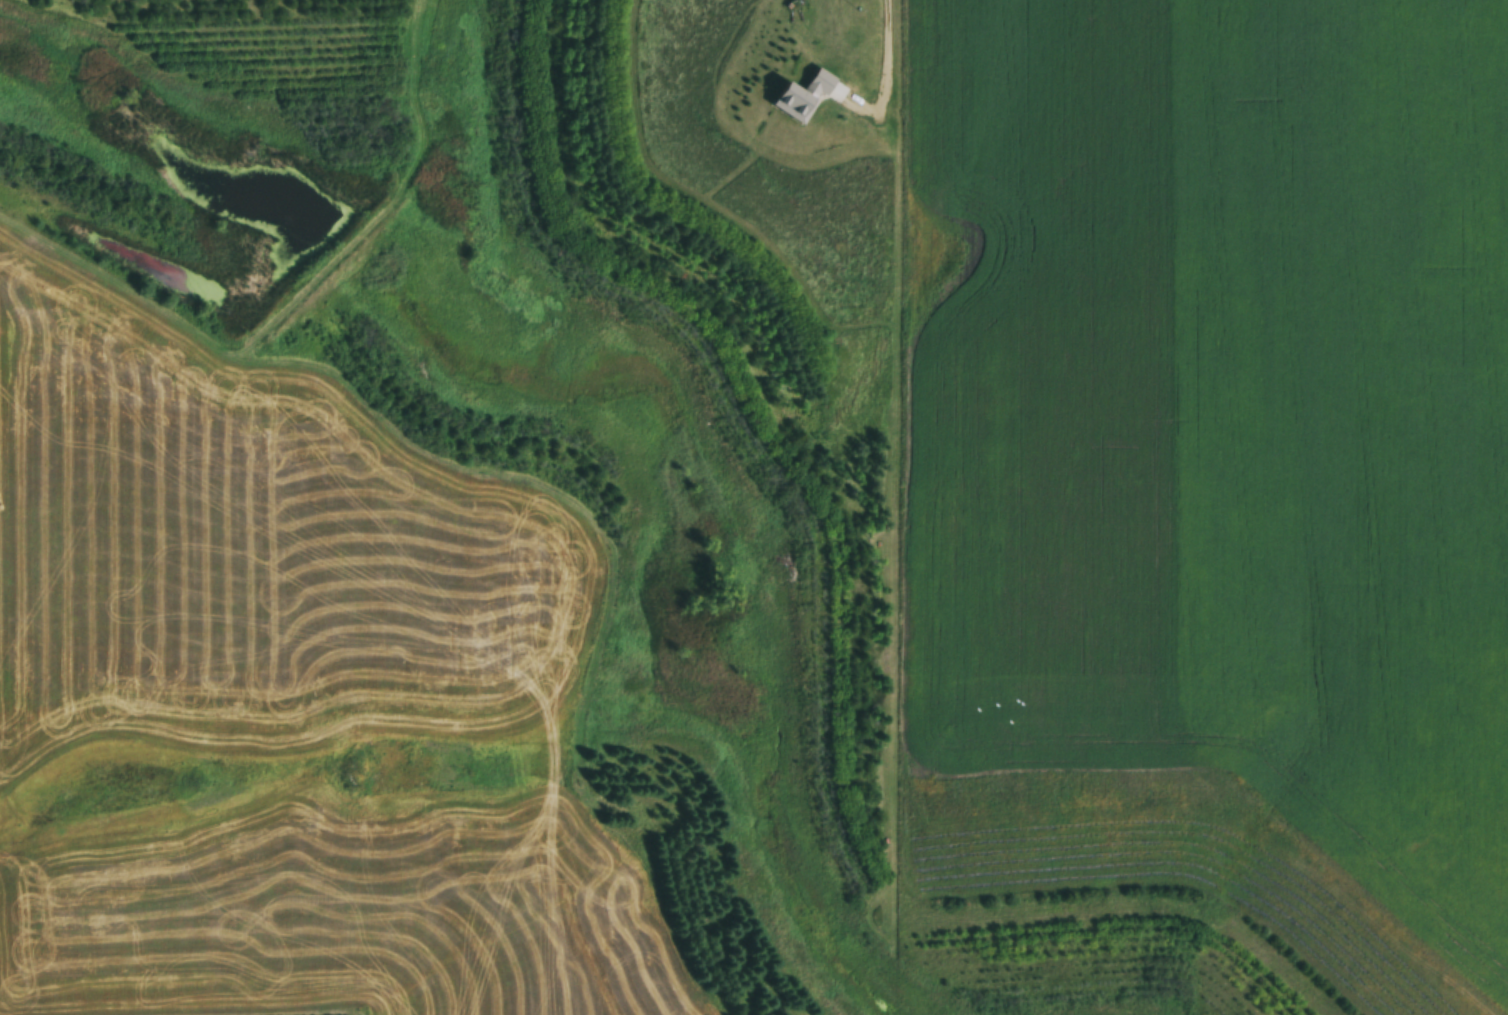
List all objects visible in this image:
building: (802, 96)

